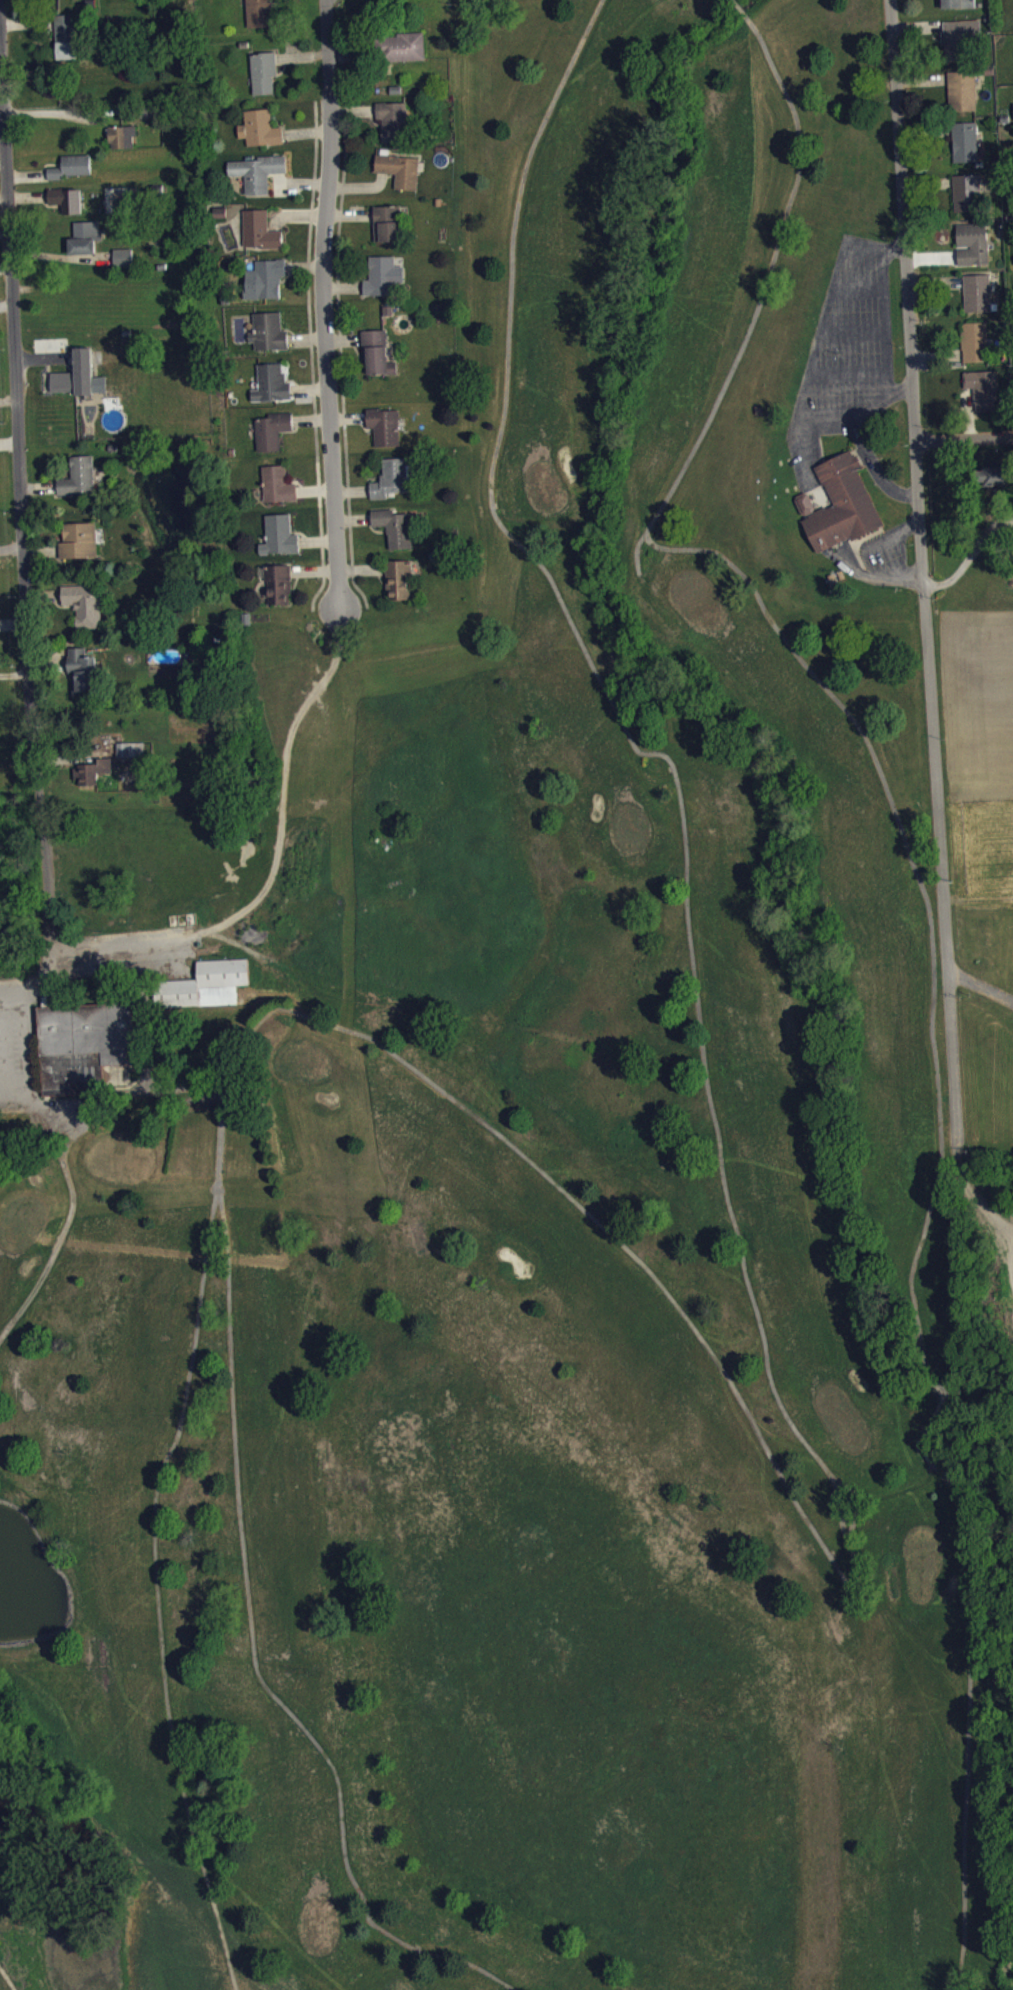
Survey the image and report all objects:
road: (734, 0)
building: (959, 7)
road: (740, 9)
building: (256, 12)
building: (66, 44)
building: (961, 46)
building: (404, 54)
building: (262, 71)
building: (963, 98)
building: (394, 128)
building: (261, 136)
building: (123, 144)
building: (966, 149)
building: (72, 174)
building: (401, 177)
building: (257, 180)
building: (968, 200)
building: (67, 207)
building: (388, 231)
building: (261, 238)
building: (86, 244)
building: (974, 251)
building: (123, 264)
building: (383, 283)
building: (266, 286)
building: (978, 299)
road: (324, 303)
road: (885, 338)
building: (270, 339)
building: (976, 349)
building: (376, 358)
road: (808, 376)
building: (77, 382)
road: (897, 386)
building: (273, 390)
building: (984, 396)
building: (386, 433)
building: (273, 437)
road: (964, 441)
road: (808, 447)
road: (27, 480)
building: (997, 483)
building: (80, 484)
building: (395, 485)
building: (279, 492)
building: (844, 512)
building: (397, 534)
road: (880, 539)
building: (281, 543)
building: (80, 548)
road: (971, 564)
road: (878, 576)
road: (924, 579)
building: (401, 587)
building: (280, 592)
building: (85, 611)
road: (809, 668)
building: (84, 678)
building: (91, 770)
building: (93, 779)
road: (280, 859)
building: (203, 982)
building: (84, 1045)
park: (533, 1189)
road: (735, 1227)
road: (192, 1346)
road: (931, 1416)
road: (252, 1651)
road: (967, 1694)
road: (7, 1978)

